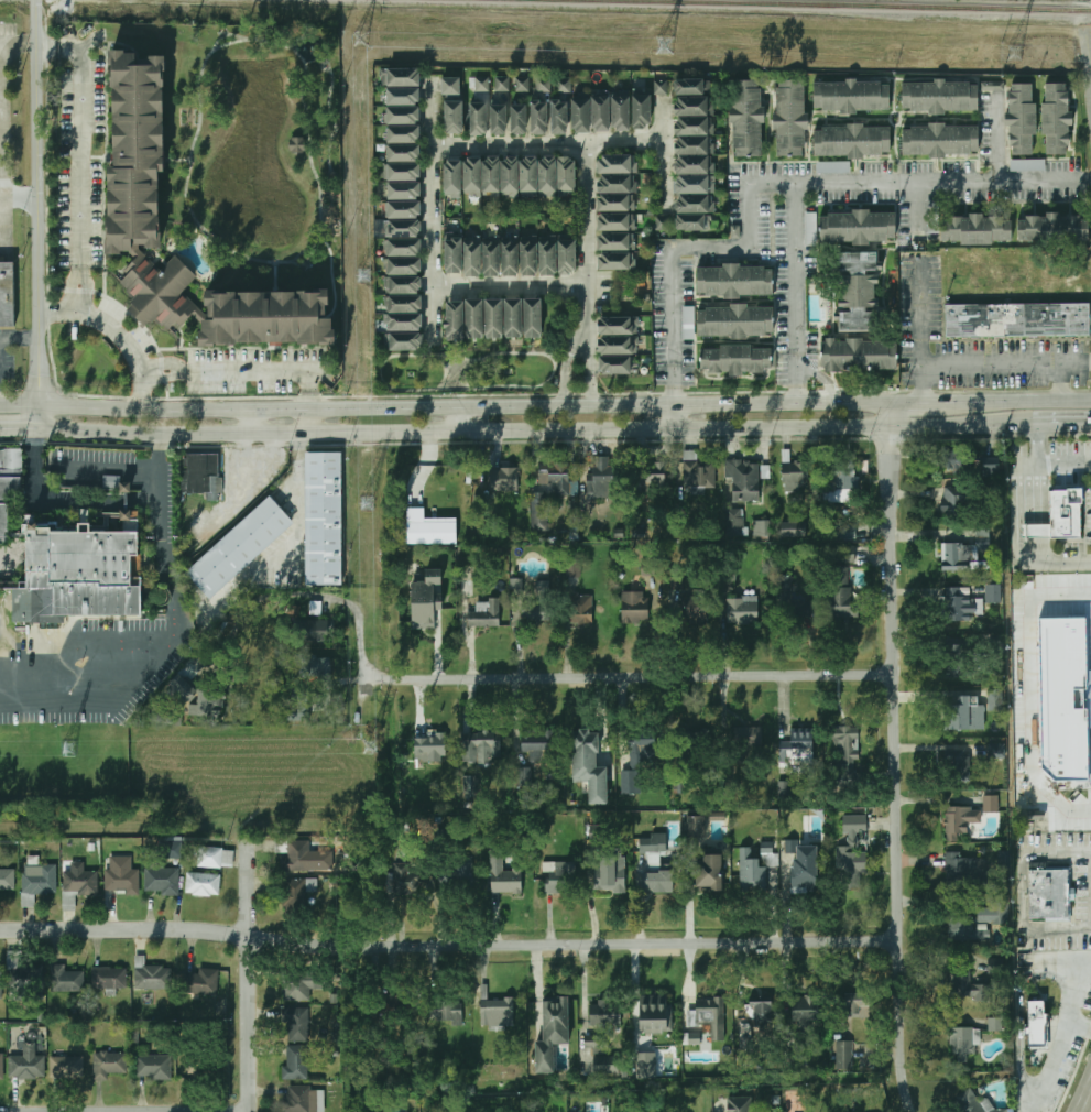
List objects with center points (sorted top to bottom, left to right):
railway: (805, 6)
road: (1090, 36)
power tower: (361, 37)
power tower: (662, 45)
power tower: (1013, 57)
building: (403, 77)
building: (502, 83)
building: (522, 83)
building: (481, 84)
building: (543, 84)
building: (449, 85)
building: (561, 85)
building: (992, 85)
building: (659, 86)
building: (689, 87)
road: (1, 88)
building: (403, 96)
building: (939, 96)
building: (851, 97)
building: (692, 106)
building: (641, 111)
building: (600, 113)
building: (620, 113)
building: (451, 115)
building: (581, 115)
building: (402, 116)
building: (536, 116)
building: (557, 116)
building: (476, 117)
building: (790, 117)
building: (495, 118)
building: (516, 118)
building: (746, 118)
building: (1021, 118)
building: (1056, 118)
building: (692, 126)
building: (403, 133)
road: (996, 137)
building: (939, 140)
building: (851, 141)
road: (545, 142)
building: (297, 144)
building: (694, 145)
road: (662, 152)
building: (403, 153)
road: (83, 161)
building: (615, 164)
building: (694, 164)
building: (1027, 164)
building: (833, 166)
building: (404, 172)
building: (490, 175)
building: (510, 175)
building: (528, 175)
building: (547, 175)
building: (567, 175)
building: (452, 176)
building: (471, 176)
road: (887, 178)
building: (615, 183)
building: (694, 184)
road: (3, 189)
building: (403, 190)
building: (137, 192)
building: (615, 201)
building: (694, 204)
road: (1, 206)
road: (22, 206)
road: (917, 206)
building: (404, 209)
road: (429, 210)
road: (42, 215)
building: (614, 221)
building: (690, 224)
building: (857, 226)
building: (403, 228)
building: (974, 228)
building: (1052, 228)
building: (810, 229)
road: (588, 232)
building: (614, 241)
building: (404, 247)
road: (710, 248)
building: (454, 254)
building: (511, 255)
building: (472, 257)
building: (491, 257)
building: (530, 257)
building: (547, 257)
building: (567, 257)
building: (614, 260)
building: (404, 265)
power tower: (364, 277)
building: (732, 280)
road: (510, 282)
building: (404, 285)
building: (858, 291)
road: (798, 292)
building: (6, 295)
building: (404, 304)
road: (920, 312)
building: (260, 315)
building: (494, 318)
building: (533, 318)
building: (455, 319)
building: (474, 319)
building: (513, 319)
building: (1017, 320)
building: (404, 321)
building: (733, 321)
building: (619, 325)
road: (674, 327)
road: (119, 332)
road: (21, 338)
building: (404, 342)
road: (577, 342)
building: (618, 345)
road: (591, 349)
building: (858, 355)
building: (735, 358)
road: (986, 361)
parking lot: (999, 361)
building: (617, 366)
road: (246, 371)
road: (1060, 379)
road: (567, 385)
road: (592, 391)
road: (1028, 397)
road: (926, 399)
road: (779, 403)
road: (336, 410)
road: (886, 412)
road: (674, 417)
road: (1024, 418)
road: (465, 419)
road: (253, 421)
road: (314, 421)
road: (921, 423)
road: (779, 426)
road: (985, 427)
road: (19, 429)
road: (1052, 429)
road: (356, 430)
building: (949, 458)
road: (1050, 458)
building: (11, 462)
building: (991, 465)
road: (114, 466)
building: (698, 470)
building: (650, 472)
building: (201, 475)
building: (795, 476)
building: (557, 477)
building: (601, 477)
building: (503, 478)
building: (840, 478)
building: (743, 479)
building: (10, 489)
road: (1015, 495)
building: (952, 499)
road: (39, 500)
power tower: (363, 504)
building: (537, 508)
building: (1068, 512)
building: (326, 514)
building: (734, 521)
building: (4, 523)
building: (761, 527)
building: (429, 528)
building: (1038, 530)
building: (842, 532)
building: (242, 543)
building: (843, 553)
building: (964, 553)
road: (1049, 562)
building: (88, 566)
building: (572, 569)
road: (171, 581)
building: (840, 592)
building: (993, 592)
road: (337, 599)
building: (426, 599)
building: (792, 602)
building: (960, 604)
building: (634, 606)
building: (689, 607)
building: (581, 609)
building: (742, 609)
building: (534, 612)
building: (484, 613)
building: (310, 632)
building: (952, 661)
building: (315, 667)
building: (192, 668)
road: (373, 671)
road: (636, 678)
road: (373, 679)
road: (330, 686)
building: (1062, 689)
building: (182, 690)
building: (994, 699)
building: (208, 705)
building: (299, 707)
building: (965, 713)
building: (697, 739)
building: (748, 739)
building: (847, 740)
building: (536, 743)
power tower: (362, 745)
building: (430, 746)
building: (480, 746)
building: (640, 746)
building: (797, 746)
building: (995, 750)
power tower: (67, 751)
building: (589, 765)
building: (957, 765)
road: (894, 768)
building: (524, 776)
building: (631, 782)
building: (470, 786)
building: (990, 803)
building: (959, 819)
building: (854, 824)
building: (696, 826)
building: (172, 847)
building: (652, 848)
building: (296, 855)
building: (216, 857)
building: (1003, 859)
building: (851, 868)
building: (755, 869)
building: (963, 870)
building: (709, 872)
building: (456, 873)
building: (610, 874)
building: (805, 874)
building: (121, 875)
building: (557, 876)
building: (37, 879)
parking lot: (1083, 879)
building: (80, 880)
building: (402, 880)
building: (506, 880)
building: (7, 881)
building: (162, 881)
building: (659, 882)
building: (203, 883)
building: (297, 892)
building: (1050, 894)
building: (979, 920)
parking lot: (1062, 936)
road: (448, 947)
parking lot: (1079, 951)
road: (1061, 958)
road: (1038, 967)
building: (23, 974)
building: (150, 974)
road: (243, 975)
building: (66, 978)
building: (109, 978)
building: (200, 980)
building: (1, 982)
building: (965, 984)
road: (1082, 984)
building: (301, 985)
parking lot: (1088, 995)
building: (855, 1003)
building: (395, 1007)
building: (805, 1007)
building: (497, 1012)
building: (603, 1012)
building: (447, 1013)
building: (656, 1013)
building: (756, 1013)
building: (708, 1016)
building: (1038, 1017)
road: (1023, 1023)
building: (1026, 1023)
building: (296, 1024)
road: (1080, 1024)
building: (553, 1033)
building: (691, 1038)
building: (963, 1042)
road: (1024, 1051)
building: (602, 1054)
building: (844, 1055)
road: (1055, 1058)
building: (798, 1059)
building: (295, 1061)
building: (26, 1064)
building: (110, 1064)
building: (206, 1064)
building: (645, 1065)
building: (1, 1066)
building: (66, 1066)
building: (154, 1067)
parking lot: (1065, 1069)
road: (1037, 1075)
road: (1029, 1093)
road: (1090, 1095)
building: (304, 1099)
road: (1085, 1101)
building: (975, 1103)
building: (738, 1104)

